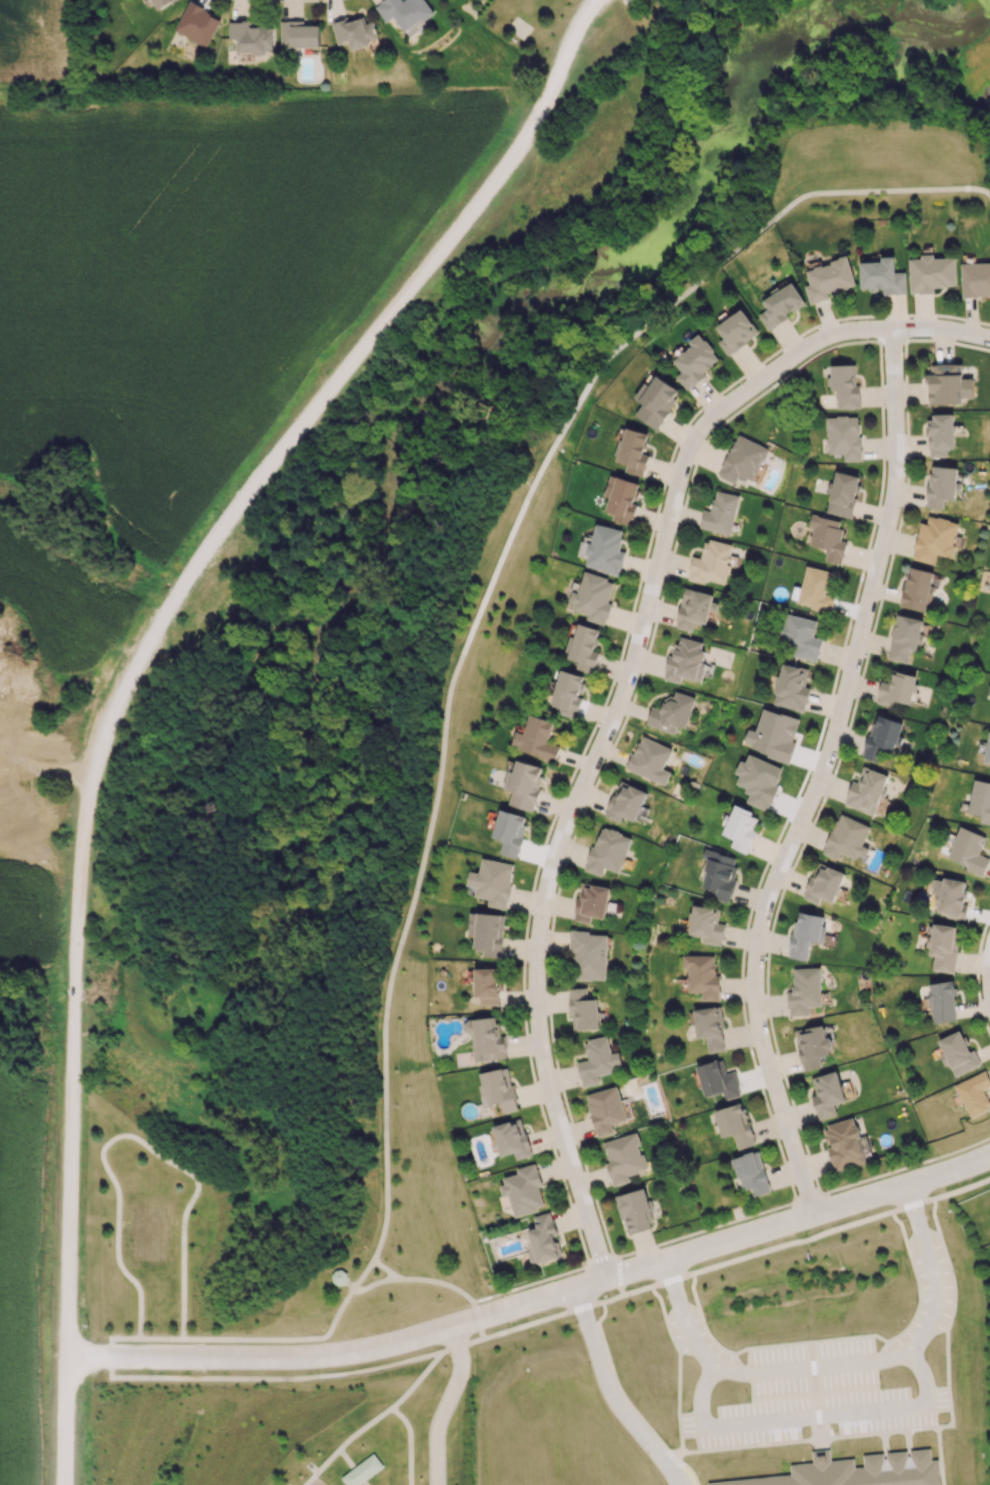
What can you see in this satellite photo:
road: (624, 1)
building: (160, 3)
building: (404, 11)
building: (197, 23)
building: (354, 31)
building: (299, 34)
building: (252, 37)
crop: (40, 43)
crop: (196, 255)
building: (931, 273)
building: (882, 276)
building: (828, 278)
building: (975, 279)
building: (781, 305)
building: (736, 331)
building: (694, 361)
building: (948, 384)
building: (845, 385)
building: (656, 402)
building: (941, 433)
building: (843, 436)
building: (634, 451)
building: (742, 459)
building: (942, 485)
building: (843, 494)
building: (622, 499)
building: (720, 513)
building: (828, 537)
building: (935, 539)
building: (603, 549)
building: (711, 562)
building: (816, 588)
building: (917, 589)
building: (592, 597)
crop: (56, 598)
building: (695, 608)
building: (800, 636)
building: (905, 638)
building: (585, 647)
building: (685, 660)
road: (135, 672)
building: (792, 687)
building: (897, 688)
building: (568, 692)
road: (604, 700)
road: (620, 703)
building: (672, 712)
building: (775, 734)
building: (882, 737)
building: (536, 738)
building: (34, 746)
building: (988, 751)
building: (650, 759)
road: (40, 778)
road: (823, 779)
building: (524, 784)
building: (866, 791)
building: (980, 800)
building: (626, 802)
building: (17, 812)
building: (741, 828)
building: (510, 832)
building: (847, 838)
building: (969, 850)
building: (608, 851)
building: (719, 875)
building: (493, 881)
building: (823, 883)
building: (953, 898)
building: (591, 902)
building: (707, 924)
building: (487, 932)
building: (806, 934)
building: (944, 946)
building: (589, 954)
building: (702, 975)
road: (988, 981)
building: (488, 985)
building: (804, 990)
building: (942, 1001)
building: (583, 1009)
building: (710, 1027)
building: (486, 1039)
building: (813, 1046)
building: (958, 1053)
building: (597, 1061)
building: (718, 1079)
building: (498, 1088)
building: (974, 1093)
building: (827, 1094)
building: (605, 1109)
building: (735, 1124)
road: (135, 1137)
building: (512, 1138)
building: (844, 1144)
building: (623, 1157)
building: (751, 1172)
building: (522, 1190)
road: (385, 1195)
building: (634, 1210)
building: (543, 1239)
road: (387, 1270)
road: (433, 1282)
crop: (8, 1301)
road: (536, 1306)
road: (837, 1338)
road: (839, 1366)
road: (423, 1374)
road: (614, 1397)
road: (815, 1400)
road: (445, 1407)
road: (378, 1416)
road: (807, 1418)
park: (298, 1432)
road: (848, 1437)
road: (671, 1456)
road: (351, 1466)
building: (362, 1470)
building: (855, 1471)

